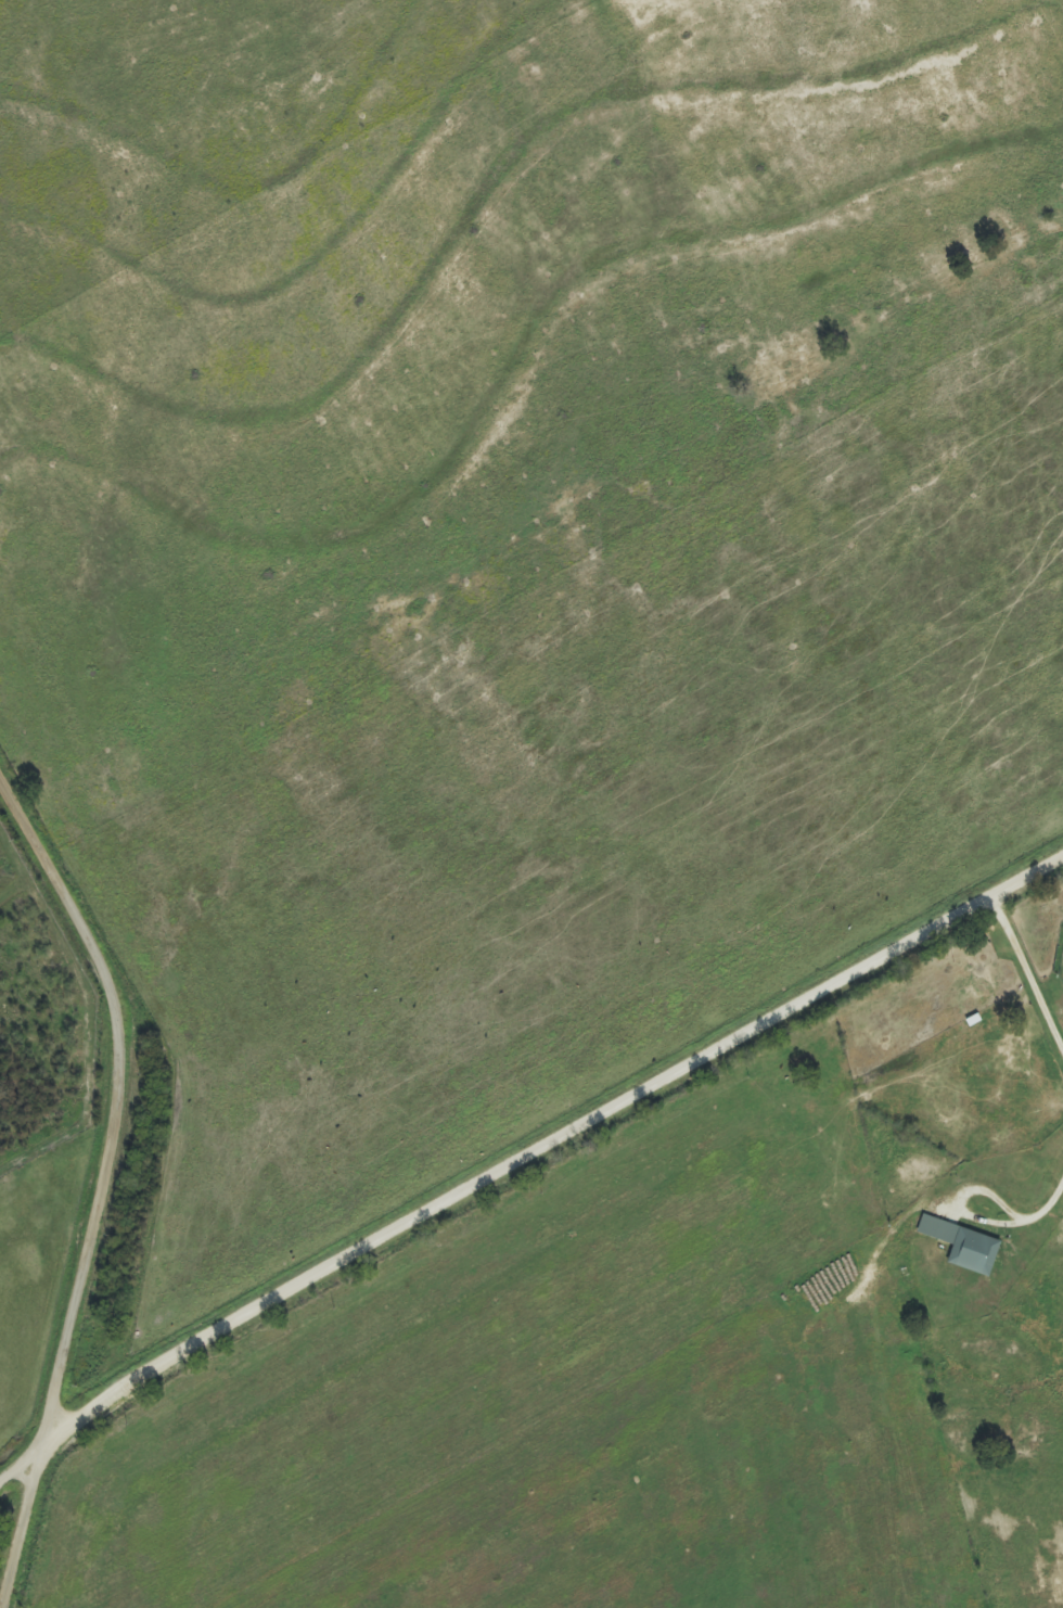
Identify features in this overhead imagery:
road: (521, 1164)
road: (107, 1179)
building: (966, 1246)

